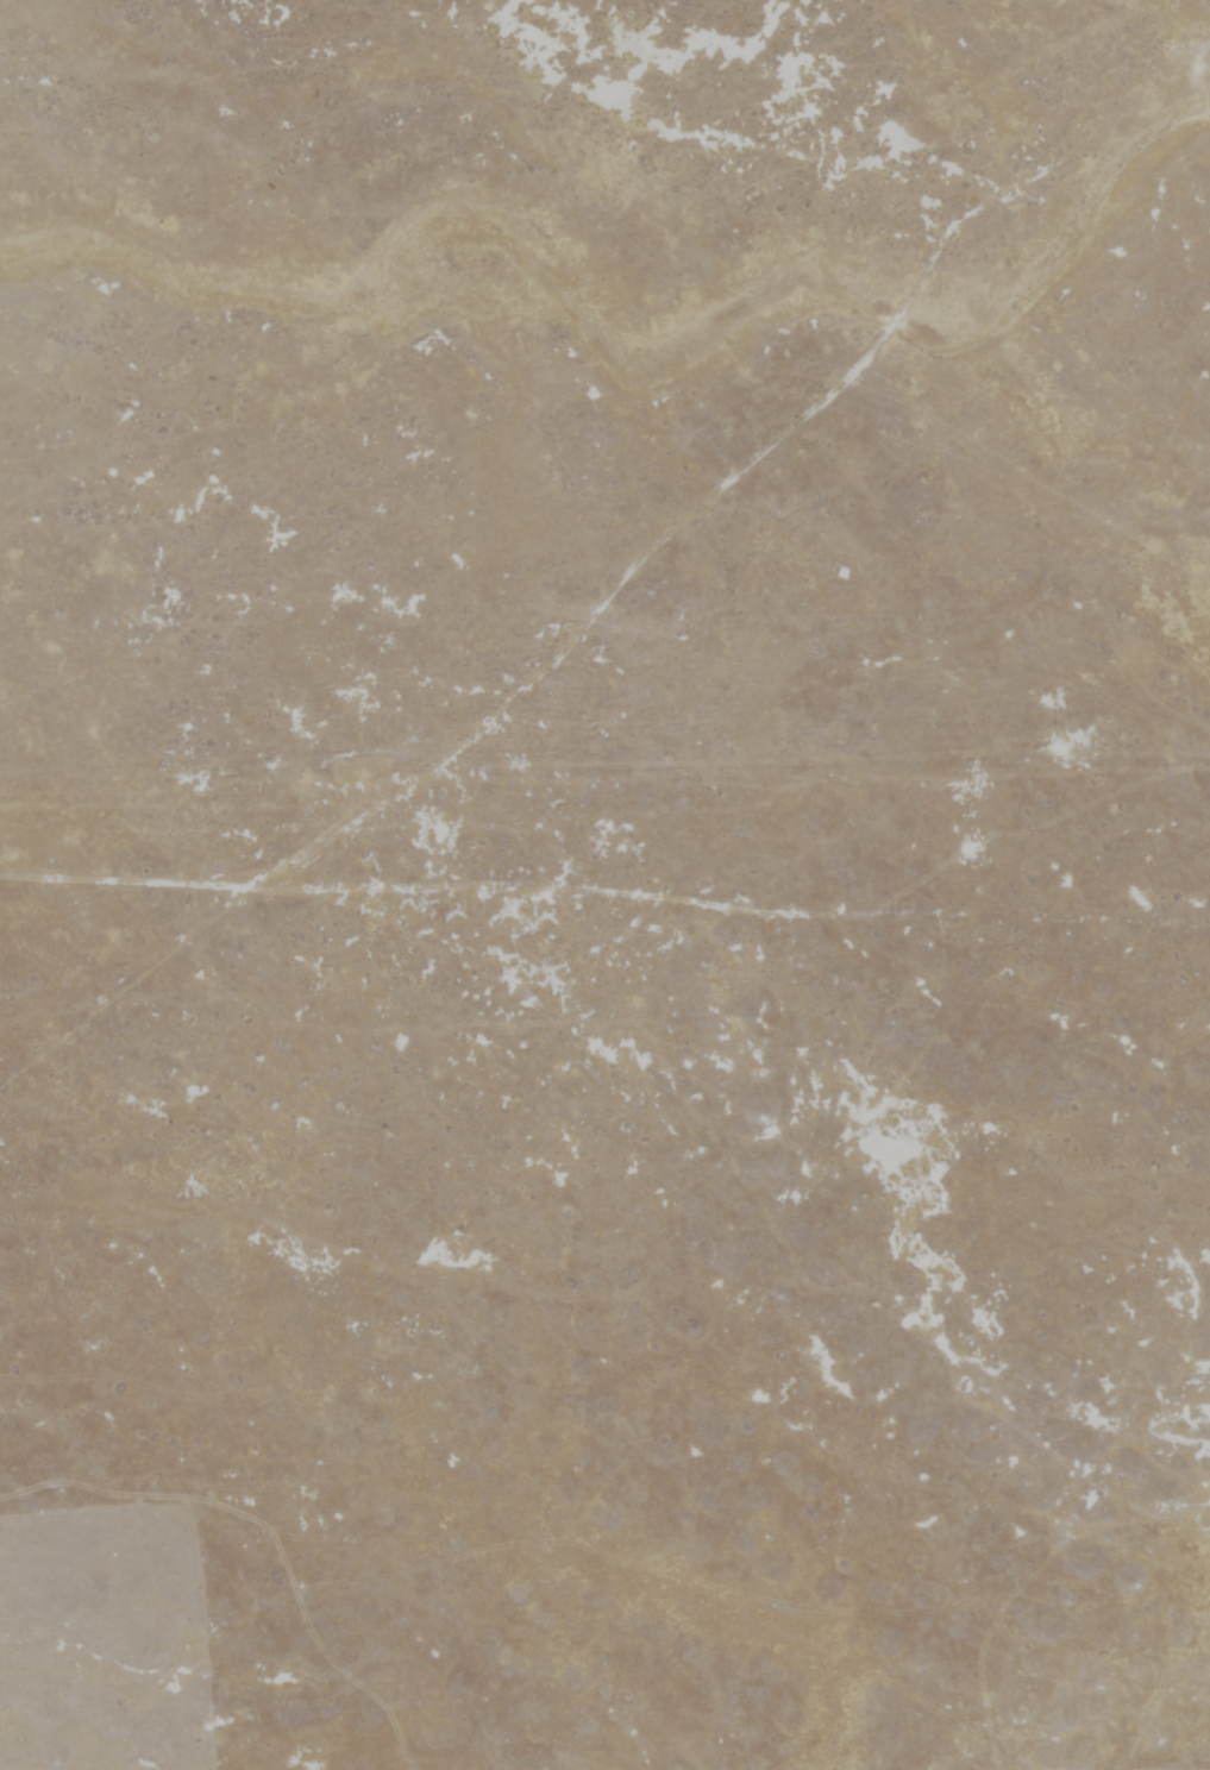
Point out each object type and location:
road: (629, 611)

